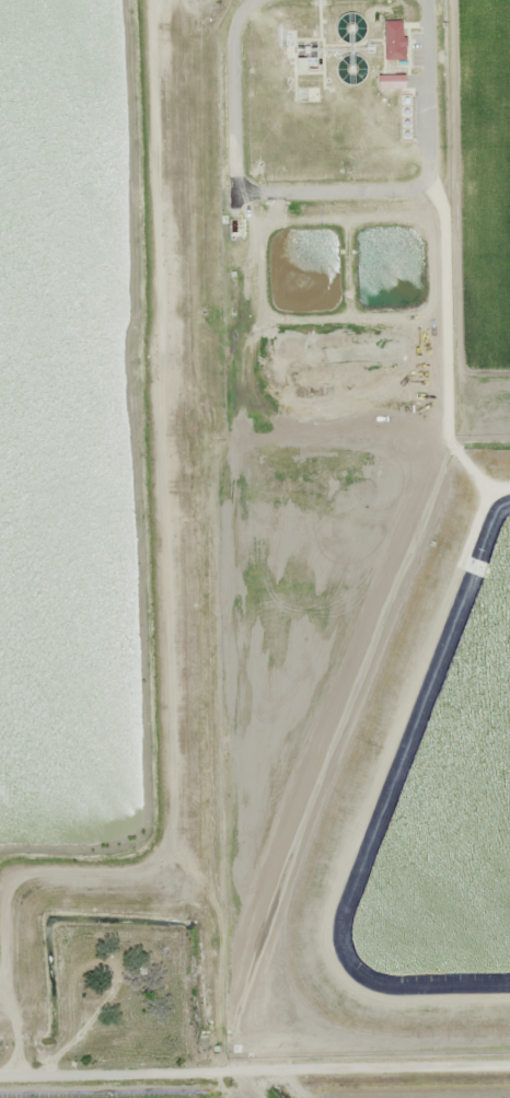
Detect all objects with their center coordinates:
road: (254, 1071)

